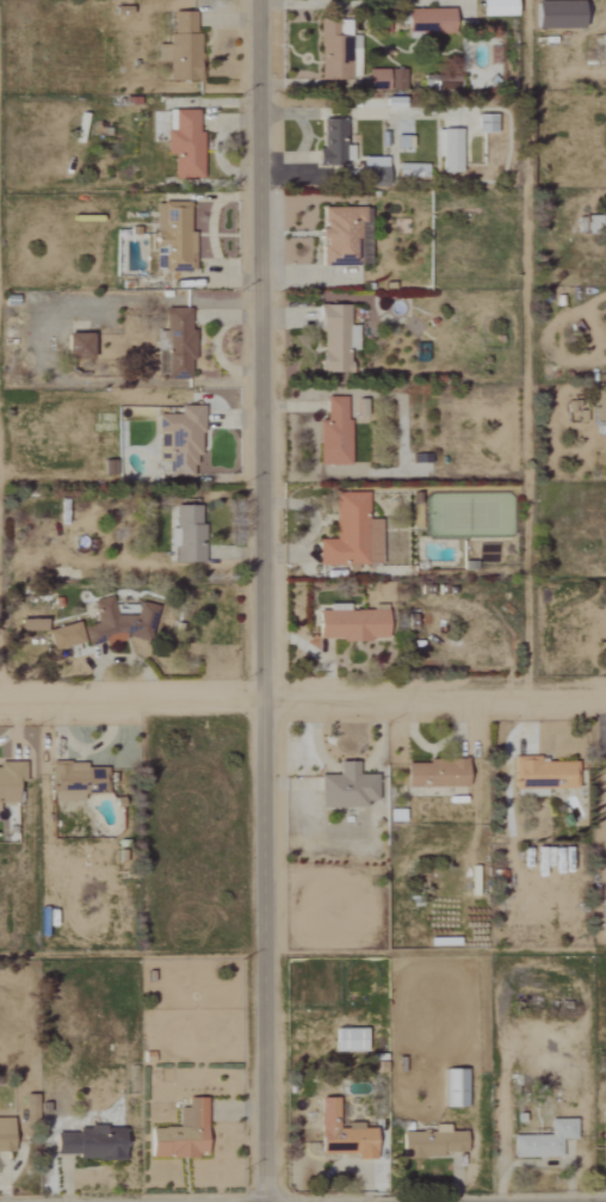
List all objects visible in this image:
building: (493, 7)
building: (554, 14)
building: (426, 20)
building: (179, 47)
building: (602, 47)
building: (336, 50)
building: (383, 79)
building: (484, 123)
building: (332, 143)
building: (184, 144)
building: (447, 149)
building: (372, 167)
building: (410, 169)
building: (341, 235)
building: (172, 238)
building: (334, 338)
building: (175, 340)
building: (75, 345)
road: (524, 346)
building: (600, 408)
building: (333, 433)
building: (185, 534)
building: (350, 535)
road: (261, 600)
building: (117, 622)
building: (29, 624)
building: (348, 624)
building: (62, 636)
road: (302, 694)
building: (435, 773)
building: (543, 773)
building: (10, 779)
building: (75, 782)
building: (345, 788)
building: (605, 926)
building: (347, 1040)
building: (453, 1087)
building: (29, 1108)
building: (5, 1134)
building: (180, 1134)
building: (340, 1134)
building: (543, 1140)
building: (431, 1142)
building: (89, 1144)

